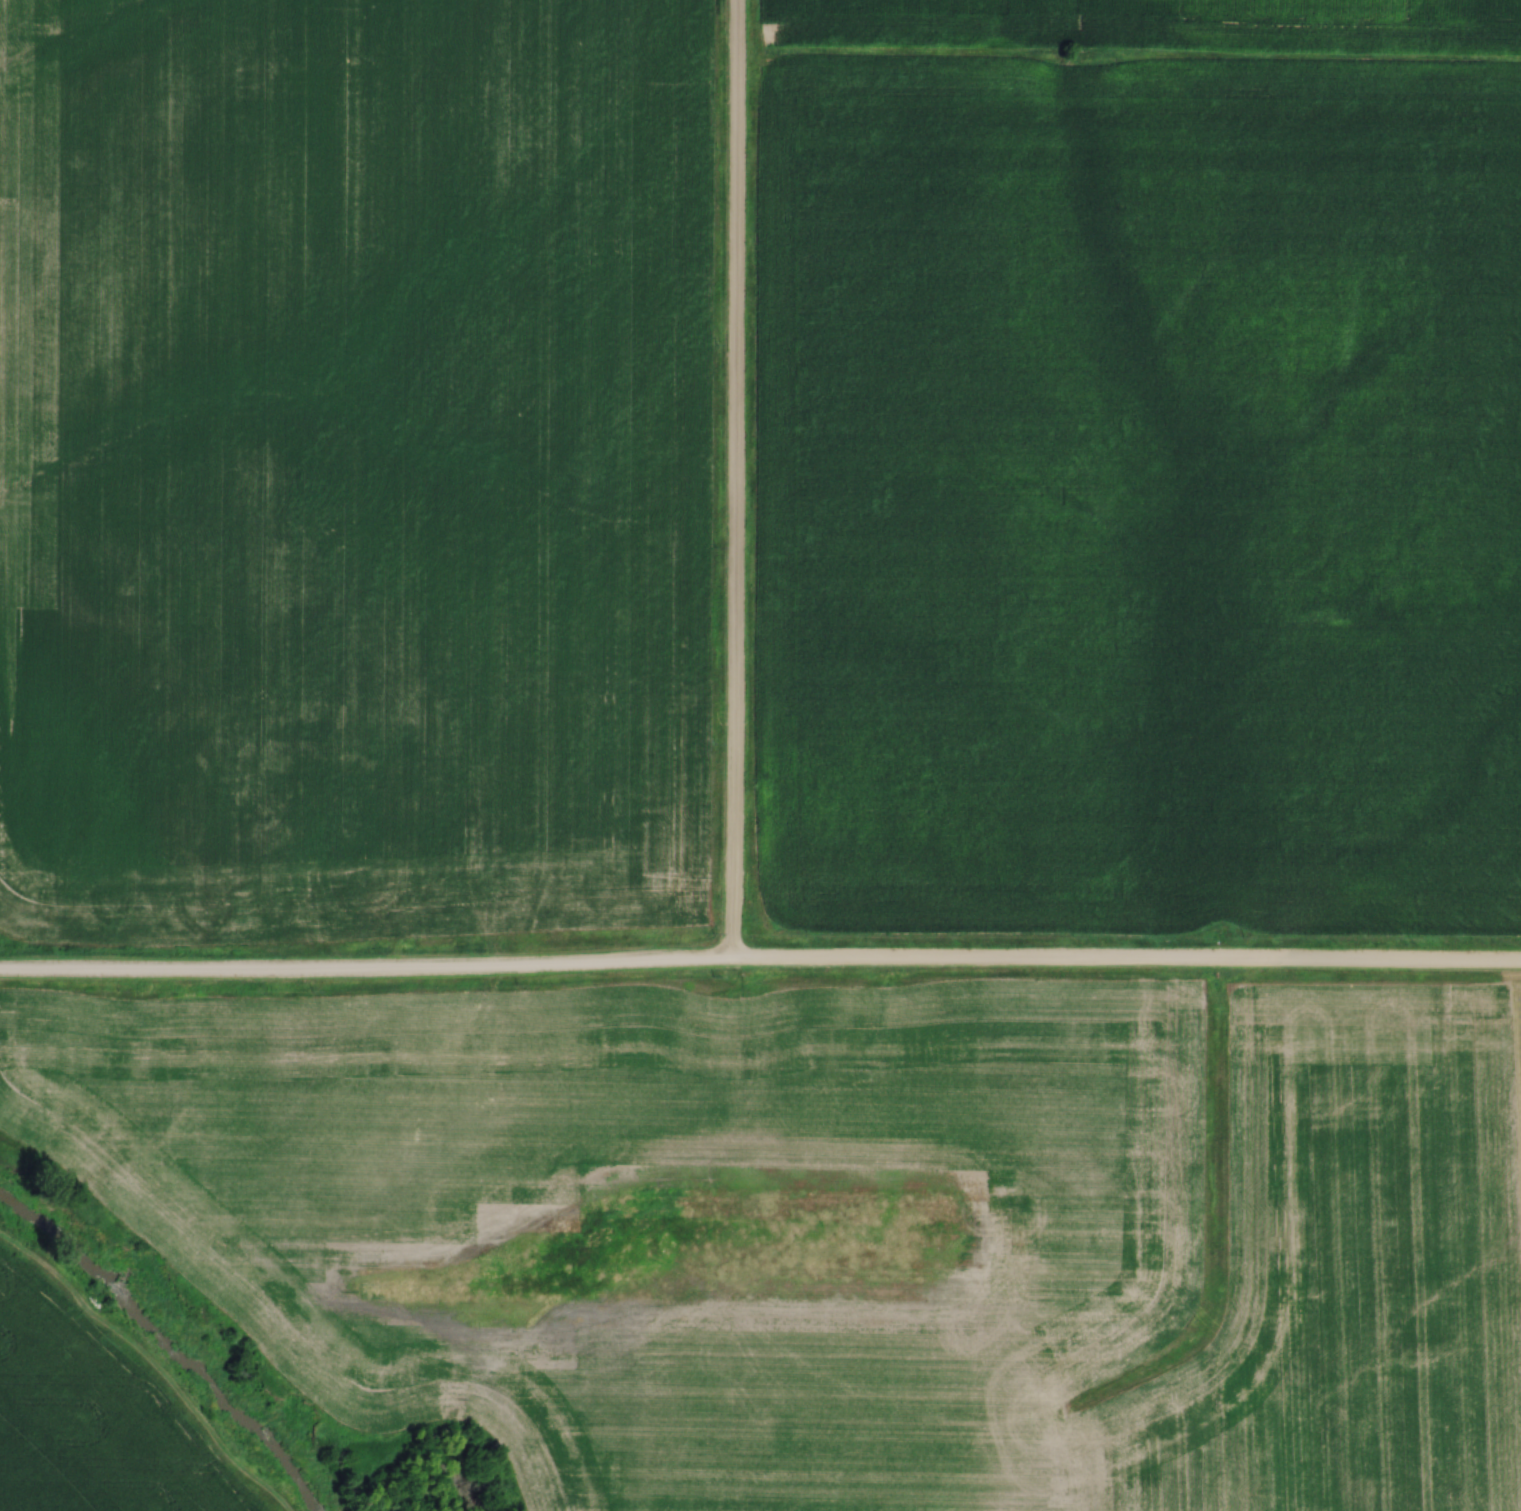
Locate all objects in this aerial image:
road: (737, 478)
road: (760, 957)
river: (178, 1337)

